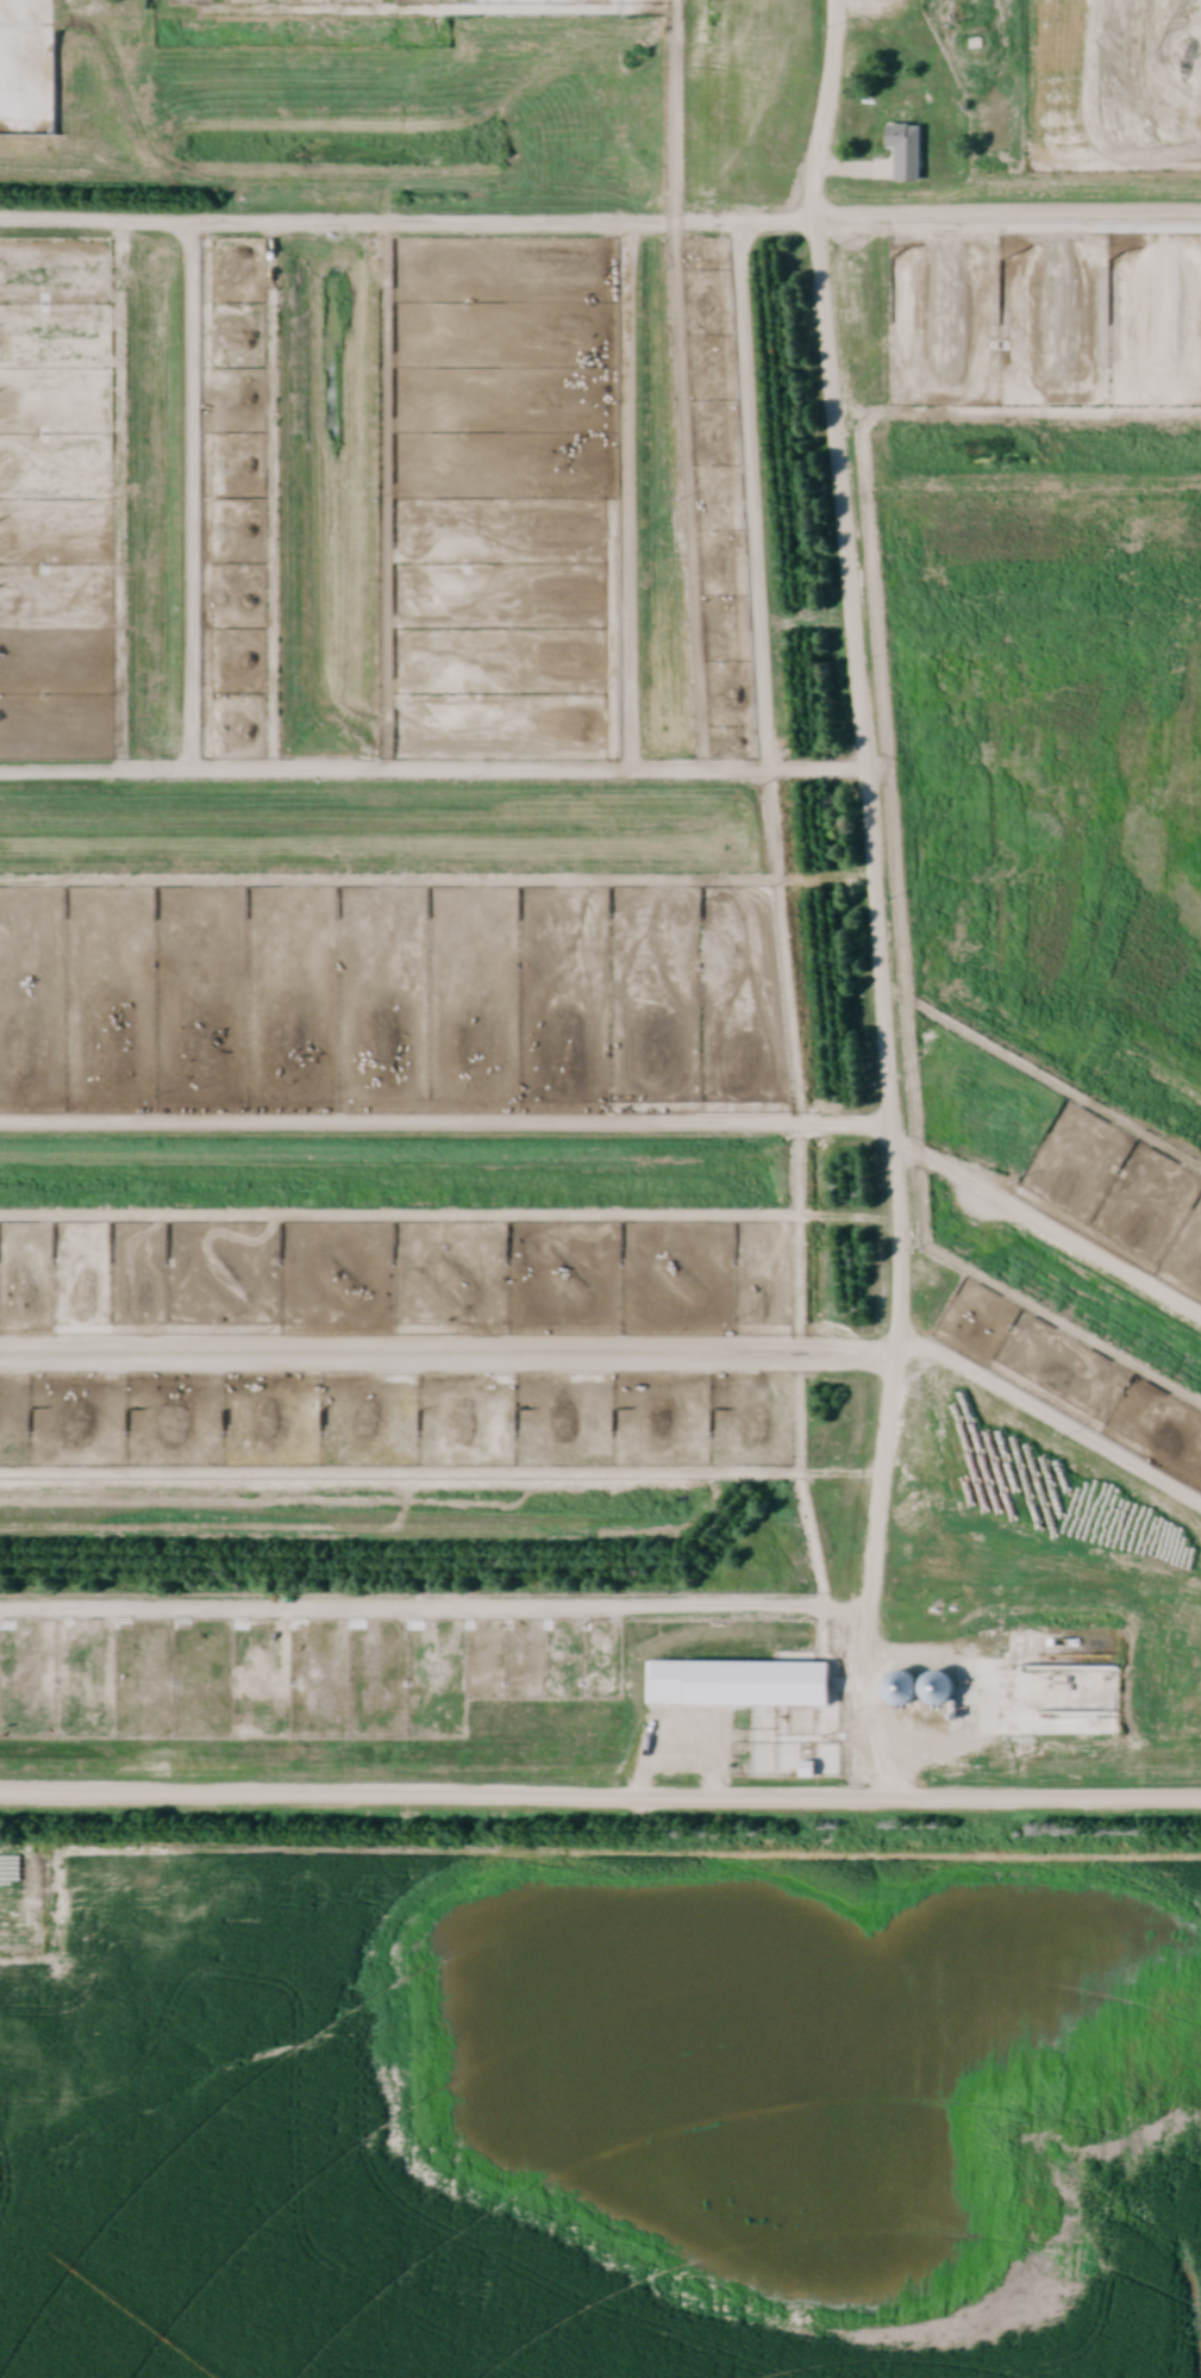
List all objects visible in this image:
building: (902, 150)
building: (463, 194)
building: (737, 1683)
building: (897, 1683)
building: (519, 1748)
road: (600, 1792)

